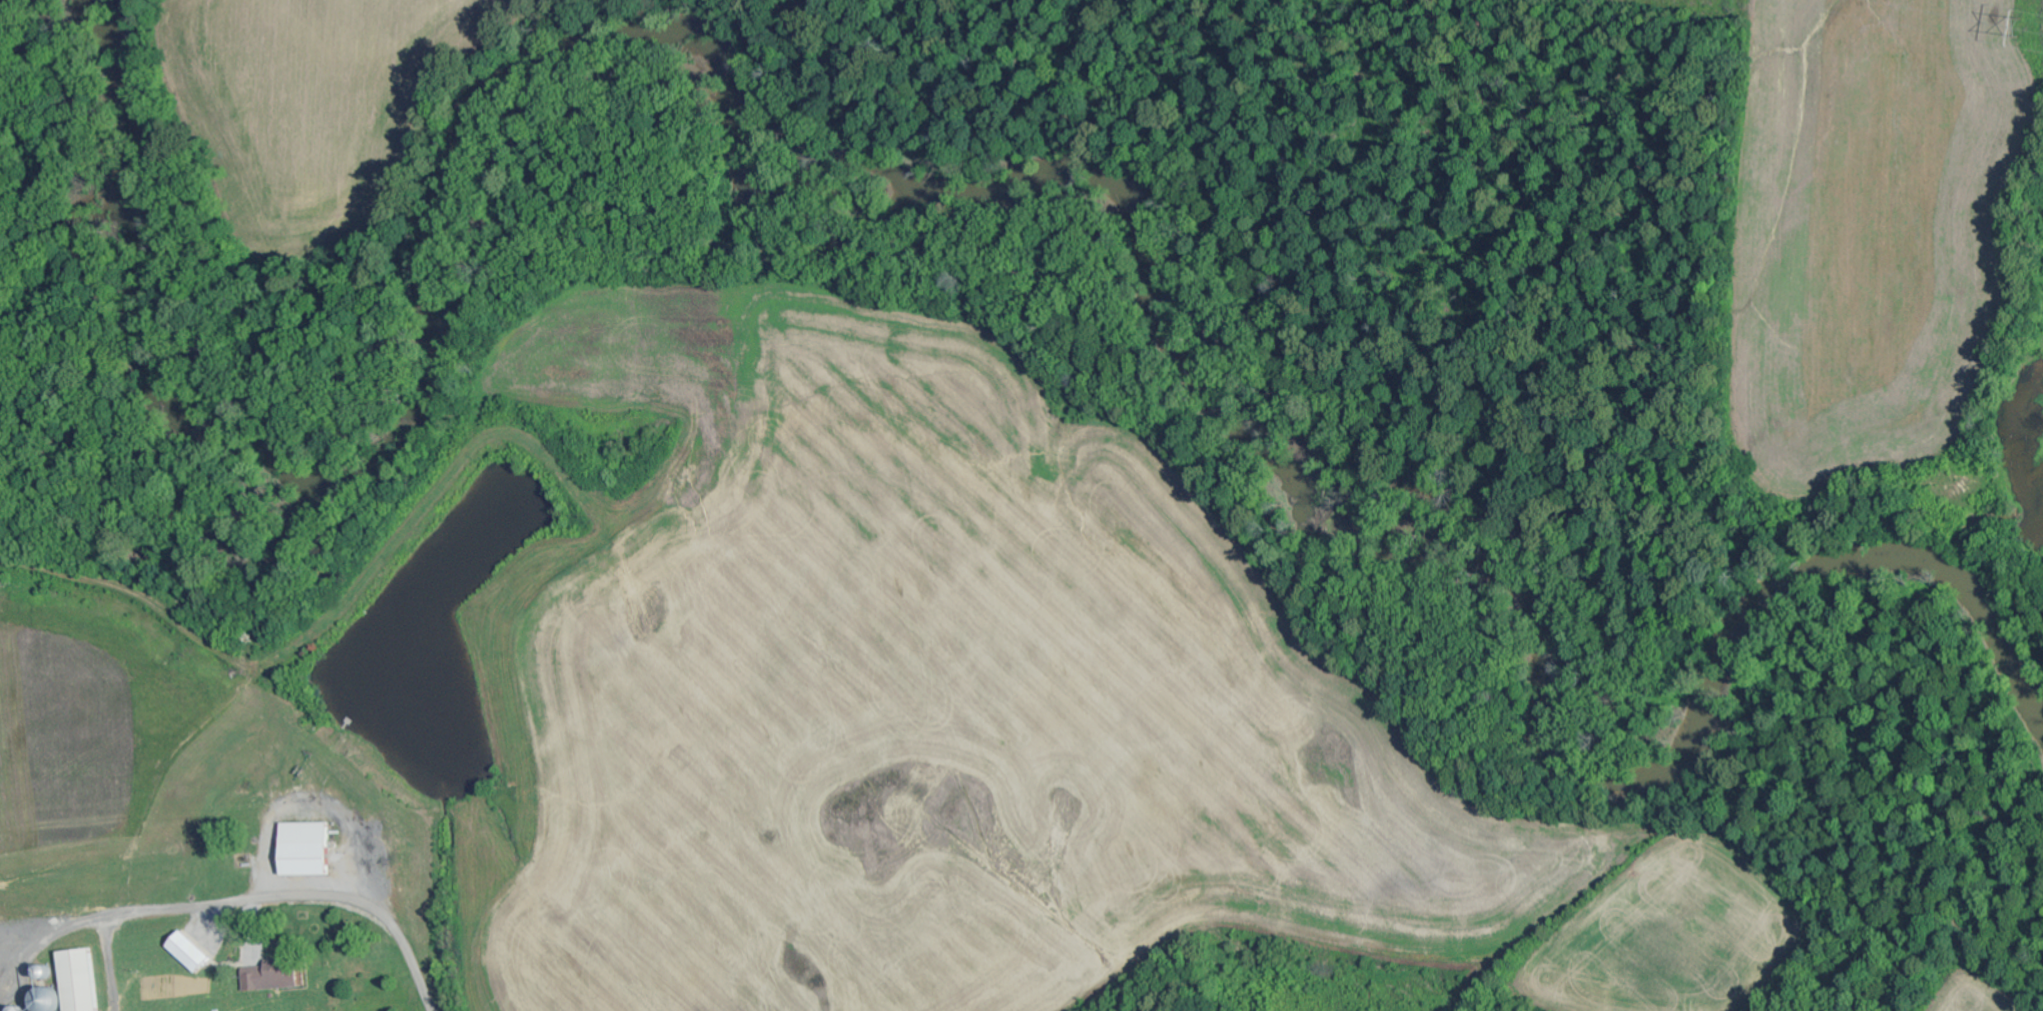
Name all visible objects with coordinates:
power tower: (2011, 23)
river: (815, 212)
building: (305, 850)
road: (367, 908)
building: (190, 953)
building: (269, 978)
building: (68, 983)

